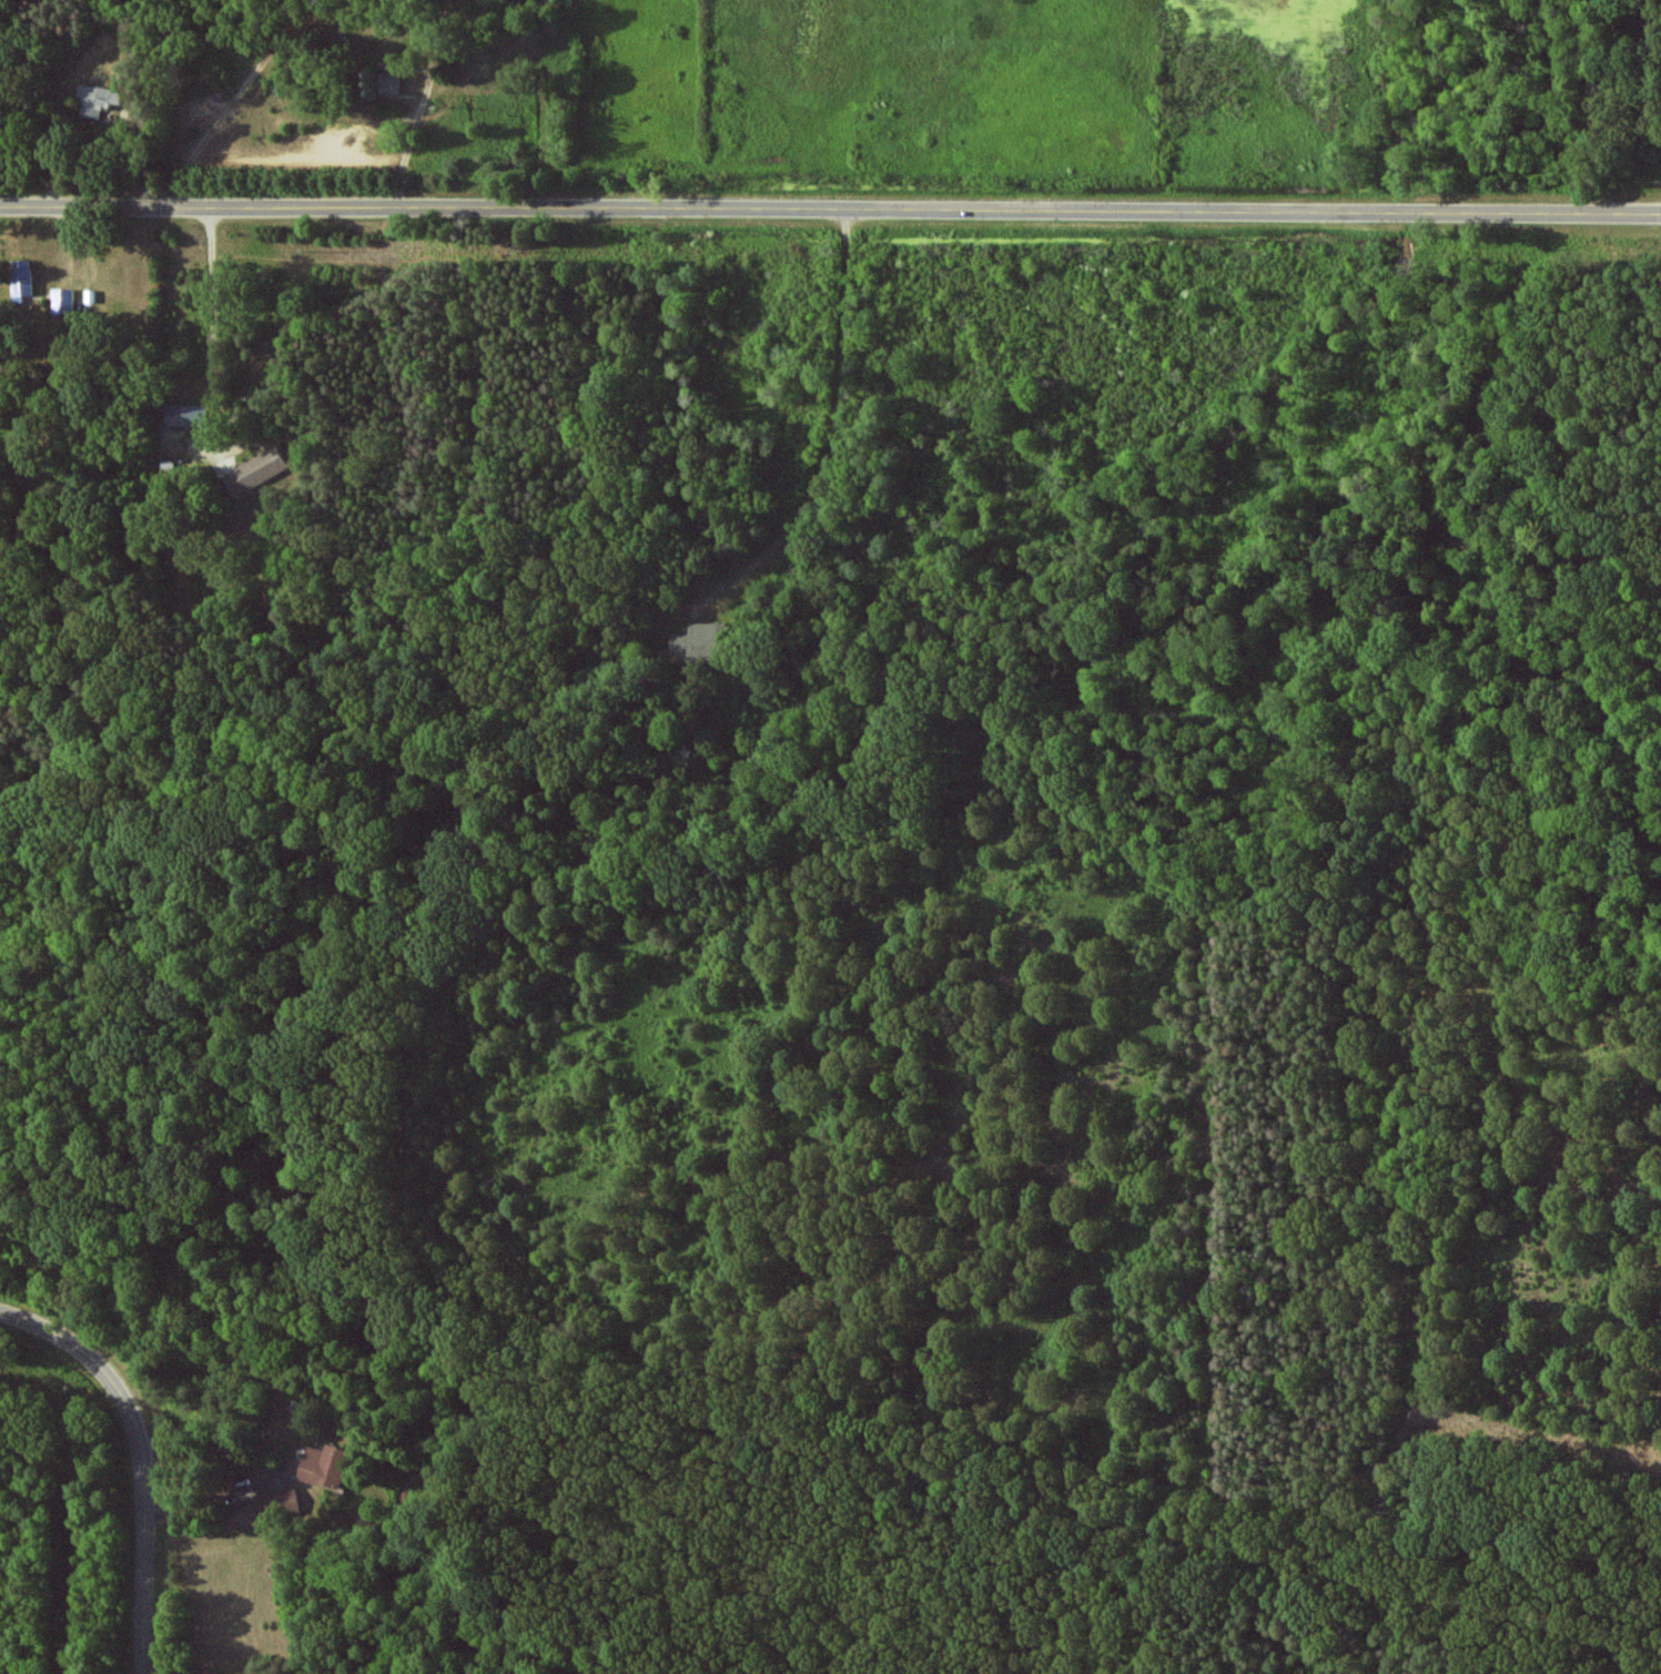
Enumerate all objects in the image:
building: (389, 82)
building: (98, 99)
road: (830, 210)
building: (22, 278)
building: (62, 301)
road: (213, 335)
building: (186, 415)
road: (824, 455)
building: (255, 470)
building: (699, 643)
road: (1518, 1440)
road: (830, 1454)
road: (143, 1455)
building: (325, 1465)
building: (263, 1508)

